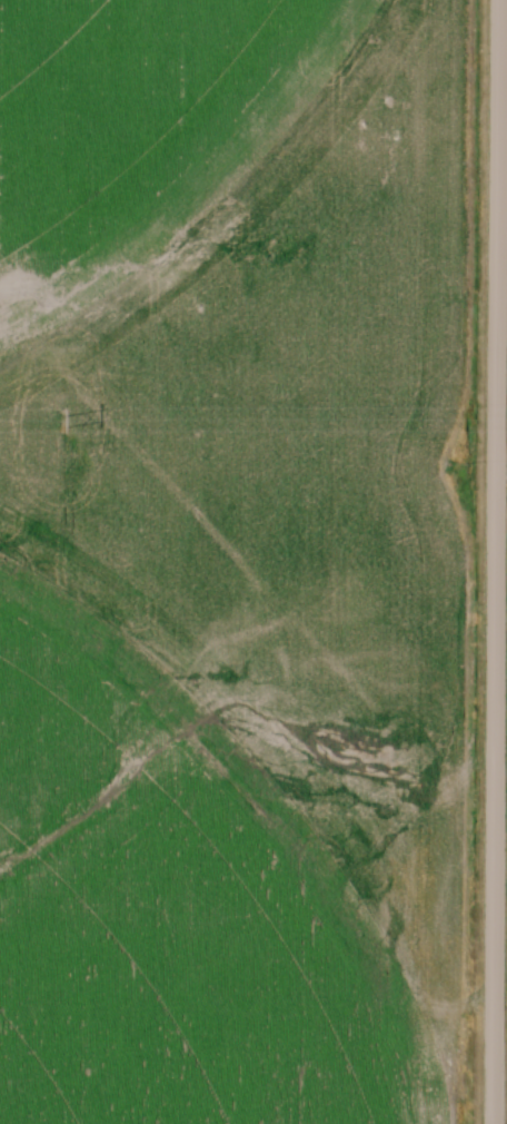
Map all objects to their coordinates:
power tower: (59, 423)
road: (496, 562)

